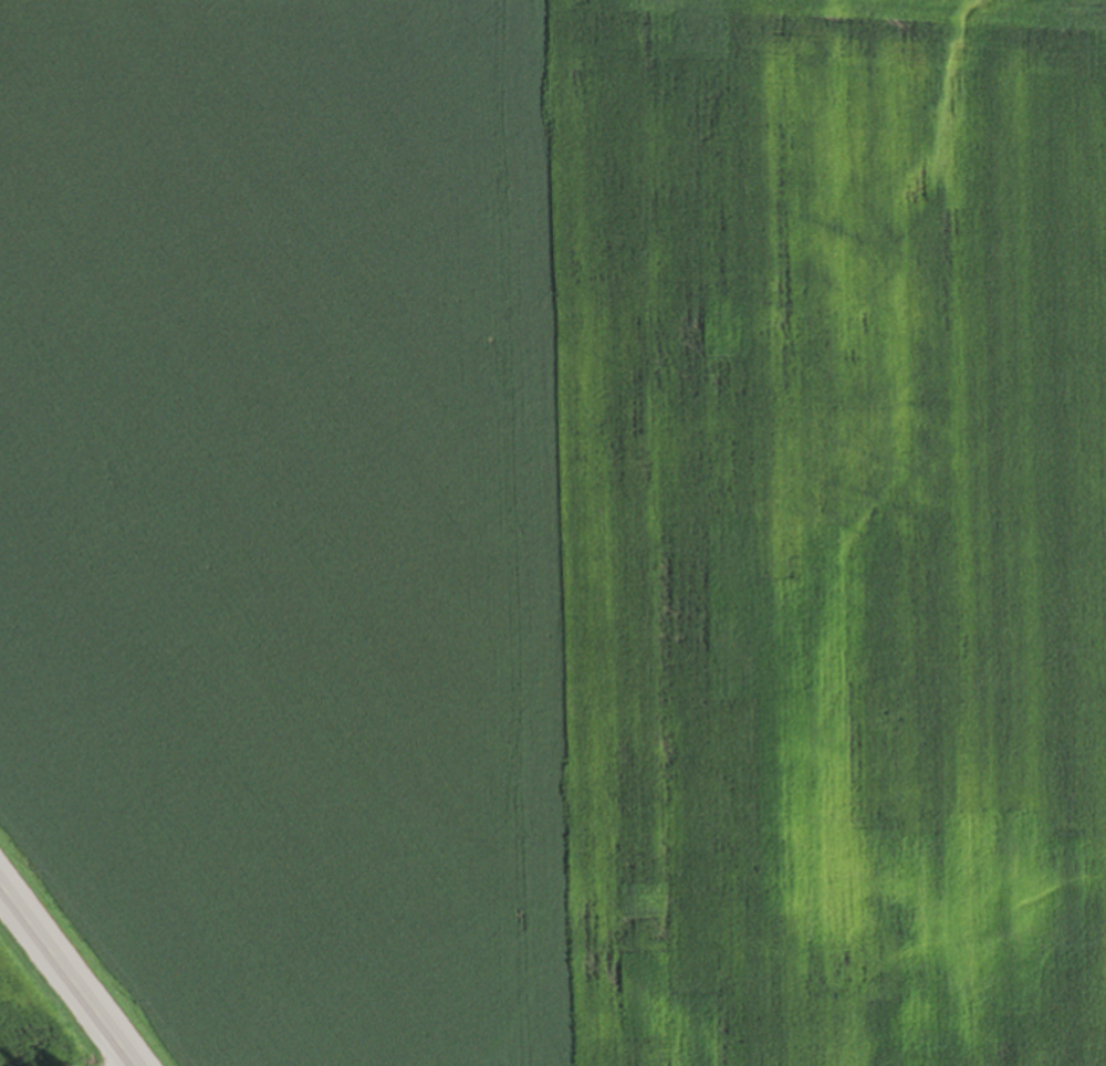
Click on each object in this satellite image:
road: (66, 976)
road: (111, 1057)

